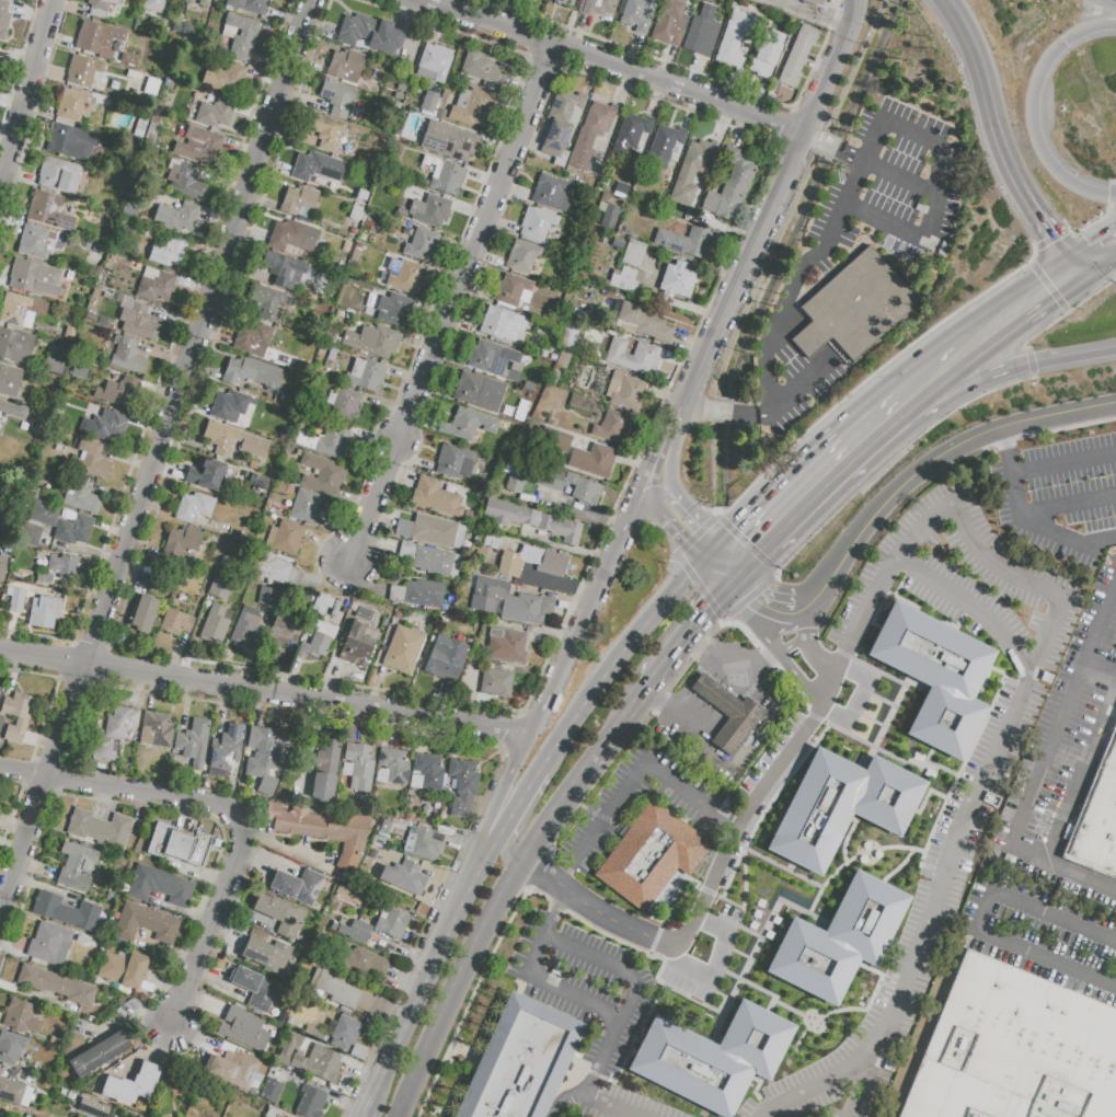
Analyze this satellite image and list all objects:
building: (204, 2)
building: (564, 2)
building: (814, 2)
building: (153, 5)
building: (101, 7)
building: (251, 7)
building: (598, 7)
building: (636, 14)
road: (806, 16)
building: (3, 19)
building: (669, 23)
building: (702, 32)
building: (241, 34)
building: (369, 34)
building: (97, 37)
building: (736, 38)
traffic signals: (1068, 44)
building: (767, 54)
building: (797, 56)
building: (128, 59)
building: (434, 64)
building: (346, 66)
road: (599, 67)
building: (483, 68)
building: (82, 71)
building: (228, 79)
building: (152, 87)
road: (26, 92)
building: (337, 96)
building: (76, 104)
building: (429, 104)
building: (472, 107)
road: (1036, 111)
building: (216, 113)
building: (440, 114)
building: (141, 124)
building: (562, 125)
building: (152, 127)
building: (326, 130)
road: (999, 134)
building: (631, 135)
building: (590, 136)
building: (449, 141)
building: (67, 142)
building: (198, 145)
building: (666, 147)
road: (833, 148)
road: (942, 159)
building: (317, 166)
building: (691, 170)
building: (57, 175)
building: (447, 179)
building: (186, 181)
road: (1114, 182)
building: (730, 187)
building: (621, 191)
building: (82, 192)
road: (1111, 192)
building: (552, 193)
building: (360, 194)
building: (299, 201)
road: (773, 201)
building: (429, 209)
building: (49, 210)
building: (356, 212)
building: (608, 215)
building: (176, 217)
building: (537, 223)
road: (1091, 224)
building: (126, 227)
road: (905, 232)
building: (292, 235)
road: (1050, 239)
building: (37, 242)
building: (686, 242)
building: (618, 243)
building: (87, 244)
building: (346, 245)
building: (422, 245)
building: (97, 247)
building: (578, 249)
building: (168, 252)
building: (633, 253)
road: (1095, 253)
building: (522, 256)
building: (114, 263)
road: (1072, 263)
street lamp: (1022, 264)
traffic signals: (1074, 266)
building: (284, 269)
parking lot: (804, 269)
building: (69, 275)
building: (404, 276)
road: (799, 277)
building: (36, 279)
street lamp: (1114, 279)
building: (624, 280)
building: (677, 280)
building: (156, 284)
road: (1047, 286)
building: (513, 291)
building: (263, 303)
road: (1014, 303)
building: (603, 304)
building: (854, 307)
building: (528, 309)
building: (21, 310)
building: (394, 310)
road: (455, 310)
building: (138, 322)
building: (644, 322)
building: (502, 324)
building: (69, 332)
building: (569, 336)
building: (252, 338)
building: (332, 339)
building: (373, 341)
building: (15, 345)
building: (56, 347)
building: (66, 350)
building: (127, 356)
building: (331, 356)
building: (633, 356)
building: (488, 358)
building: (565, 360)
building: (670, 360)
building: (302, 364)
building: (55, 367)
building: (80, 369)
road: (929, 370)
road: (1006, 371)
building: (251, 372)
building: (368, 375)
road: (871, 375)
building: (9, 381)
road: (797, 389)
building: (625, 390)
building: (479, 391)
building: (119, 392)
building: (290, 401)
building: (579, 402)
building: (343, 403)
building: (527, 403)
building: (228, 405)
road: (951, 412)
road: (722, 413)
building: (3, 415)
building: (60, 416)
road: (1115, 417)
building: (469, 425)
building: (110, 426)
building: (612, 426)
building: (274, 434)
building: (562, 437)
building: (323, 439)
building: (233, 441)
road: (1001, 441)
road: (668, 442)
road: (944, 452)
building: (91, 459)
road: (1063, 459)
road: (161, 460)
building: (592, 460)
building: (455, 462)
building: (206, 474)
building: (322, 474)
building: (549, 480)
road: (813, 480)
building: (261, 483)
building: (81, 496)
building: (436, 497)
road: (1068, 505)
building: (304, 506)
building: (194, 507)
road: (637, 508)
building: (532, 520)
building: (62, 522)
road: (689, 525)
road: (1035, 527)
building: (228, 530)
building: (432, 531)
traffic signals: (694, 531)
road: (697, 534)
building: (31, 536)
building: (285, 537)
building: (491, 541)
road: (746, 542)
traffic signals: (752, 543)
building: (180, 544)
building: (194, 558)
building: (223, 561)
building: (432, 561)
building: (533, 562)
building: (62, 566)
building: (2, 567)
building: (277, 568)
building: (44, 578)
building: (184, 578)
road: (930, 579)
building: (158, 585)
road: (743, 585)
road: (699, 587)
building: (220, 588)
building: (418, 594)
building: (266, 596)
building: (182, 597)
road: (748, 597)
road: (814, 598)
building: (15, 599)
traffic signals: (752, 599)
building: (508, 602)
building: (321, 606)
traffic signals: (709, 608)
building: (45, 611)
road: (778, 612)
building: (142, 613)
building: (364, 613)
building: (176, 623)
road: (804, 623)
building: (216, 624)
building: (245, 625)
road: (762, 629)
road: (578, 632)
road: (693, 632)
building: (281, 633)
building: (318, 641)
building: (514, 643)
road: (792, 644)
building: (357, 645)
building: (403, 650)
road: (620, 652)
building: (448, 659)
road: (816, 659)
road: (722, 660)
road: (756, 660)
road: (1101, 670)
road: (856, 676)
building: (935, 676)
road: (799, 680)
building: (495, 683)
road: (266, 688)
road: (769, 693)
road: (675, 710)
building: (727, 713)
building: (16, 715)
building: (1, 721)
road: (623, 723)
building: (156, 729)
building: (115, 732)
building: (194, 741)
building: (225, 751)
road: (1001, 751)
building: (1111, 752)
building: (262, 759)
building: (358, 767)
building: (392, 767)
road: (1044, 770)
road: (1081, 770)
road: (24, 771)
building: (325, 771)
building: (426, 772)
road: (641, 775)
building: (463, 786)
road: (147, 791)
road: (507, 792)
building: (366, 802)
road: (517, 802)
building: (842, 806)
road: (748, 810)
building: (1096, 827)
building: (384, 828)
building: (100, 829)
building: (322, 830)
building: (379, 842)
building: (424, 843)
road: (488, 844)
road: (508, 844)
building: (177, 845)
road: (279, 845)
building: (375, 854)
building: (651, 855)
building: (77, 866)
building: (404, 877)
road: (564, 878)
building: (298, 886)
building: (161, 887)
building: (348, 896)
building: (112, 897)
road: (563, 901)
building: (67, 912)
road: (597, 912)
building: (279, 914)
road: (981, 920)
road: (702, 921)
building: (391, 922)
building: (146, 923)
road: (553, 924)
road: (212, 925)
road: (486, 928)
building: (358, 932)
road: (688, 933)
road: (549, 937)
building: (839, 941)
building: (87, 942)
building: (49, 944)
building: (266, 955)
building: (360, 961)
road: (712, 964)
building: (124, 969)
road: (424, 982)
building: (57, 986)
building: (256, 988)
building: (342, 993)
building: (22, 1016)
building: (283, 1016)
building: (244, 1029)
building: (343, 1032)
building: (11, 1047)
building: (289, 1048)
building: (227, 1049)
building: (1015, 1049)
building: (100, 1055)
building: (712, 1058)
building: (519, 1061)
building: (319, 1063)
building: (116, 1070)
building: (237, 1070)
building: (14, 1076)
road: (828, 1081)
building: (131, 1084)
road: (589, 1084)
building: (12, 1091)
building: (271, 1092)
road: (568, 1101)
building: (310, 1102)
building: (92, 1108)
building: (271, 1113)
road: (366, 1115)

